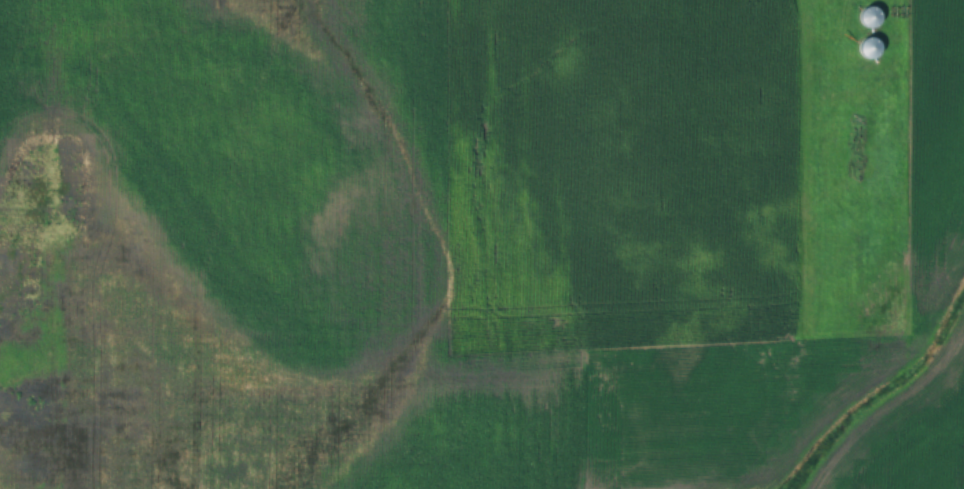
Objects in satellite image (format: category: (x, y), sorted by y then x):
building: (868, 15)
building: (867, 46)

